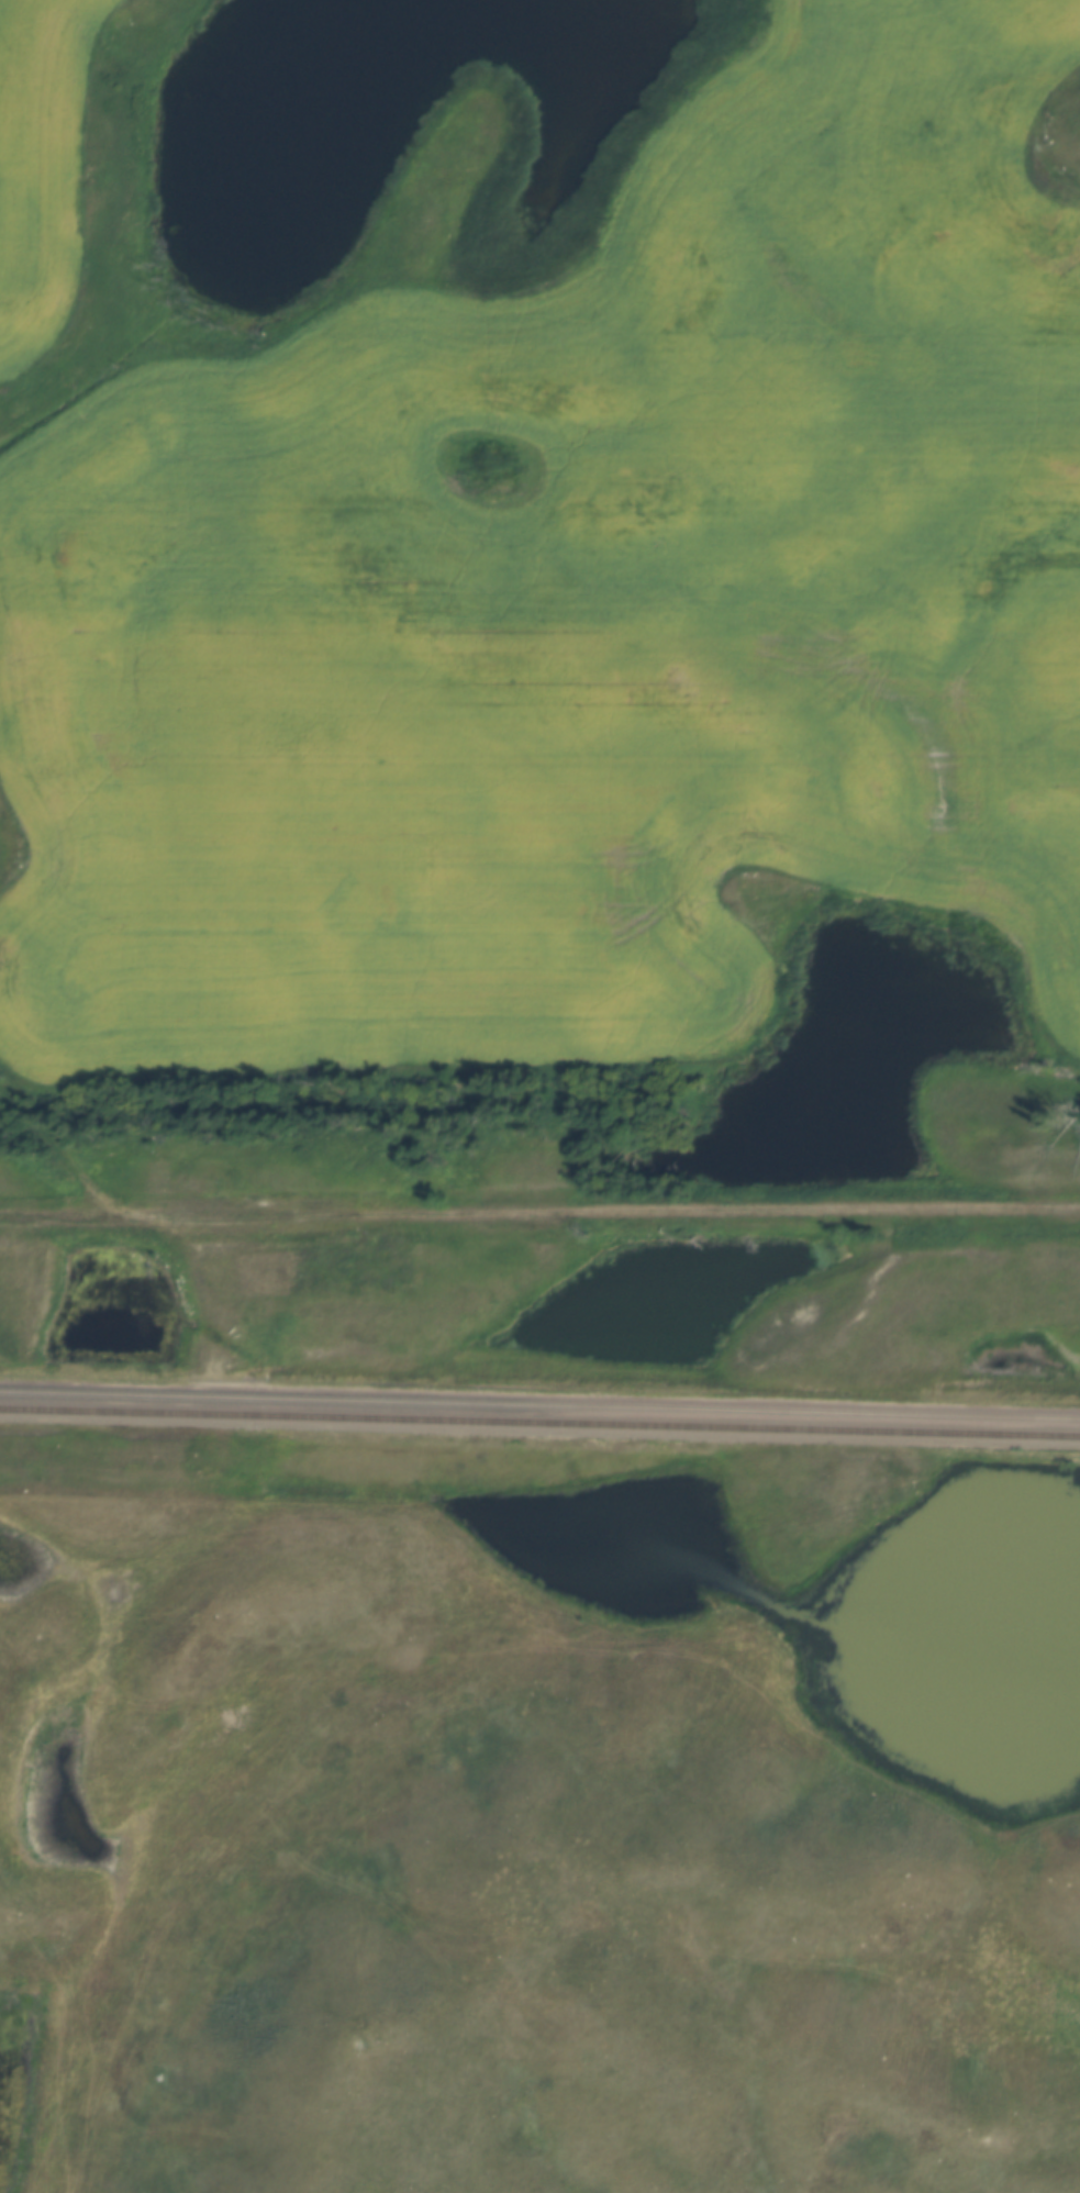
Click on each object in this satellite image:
railway: (539, 1393)
railway: (539, 1424)

